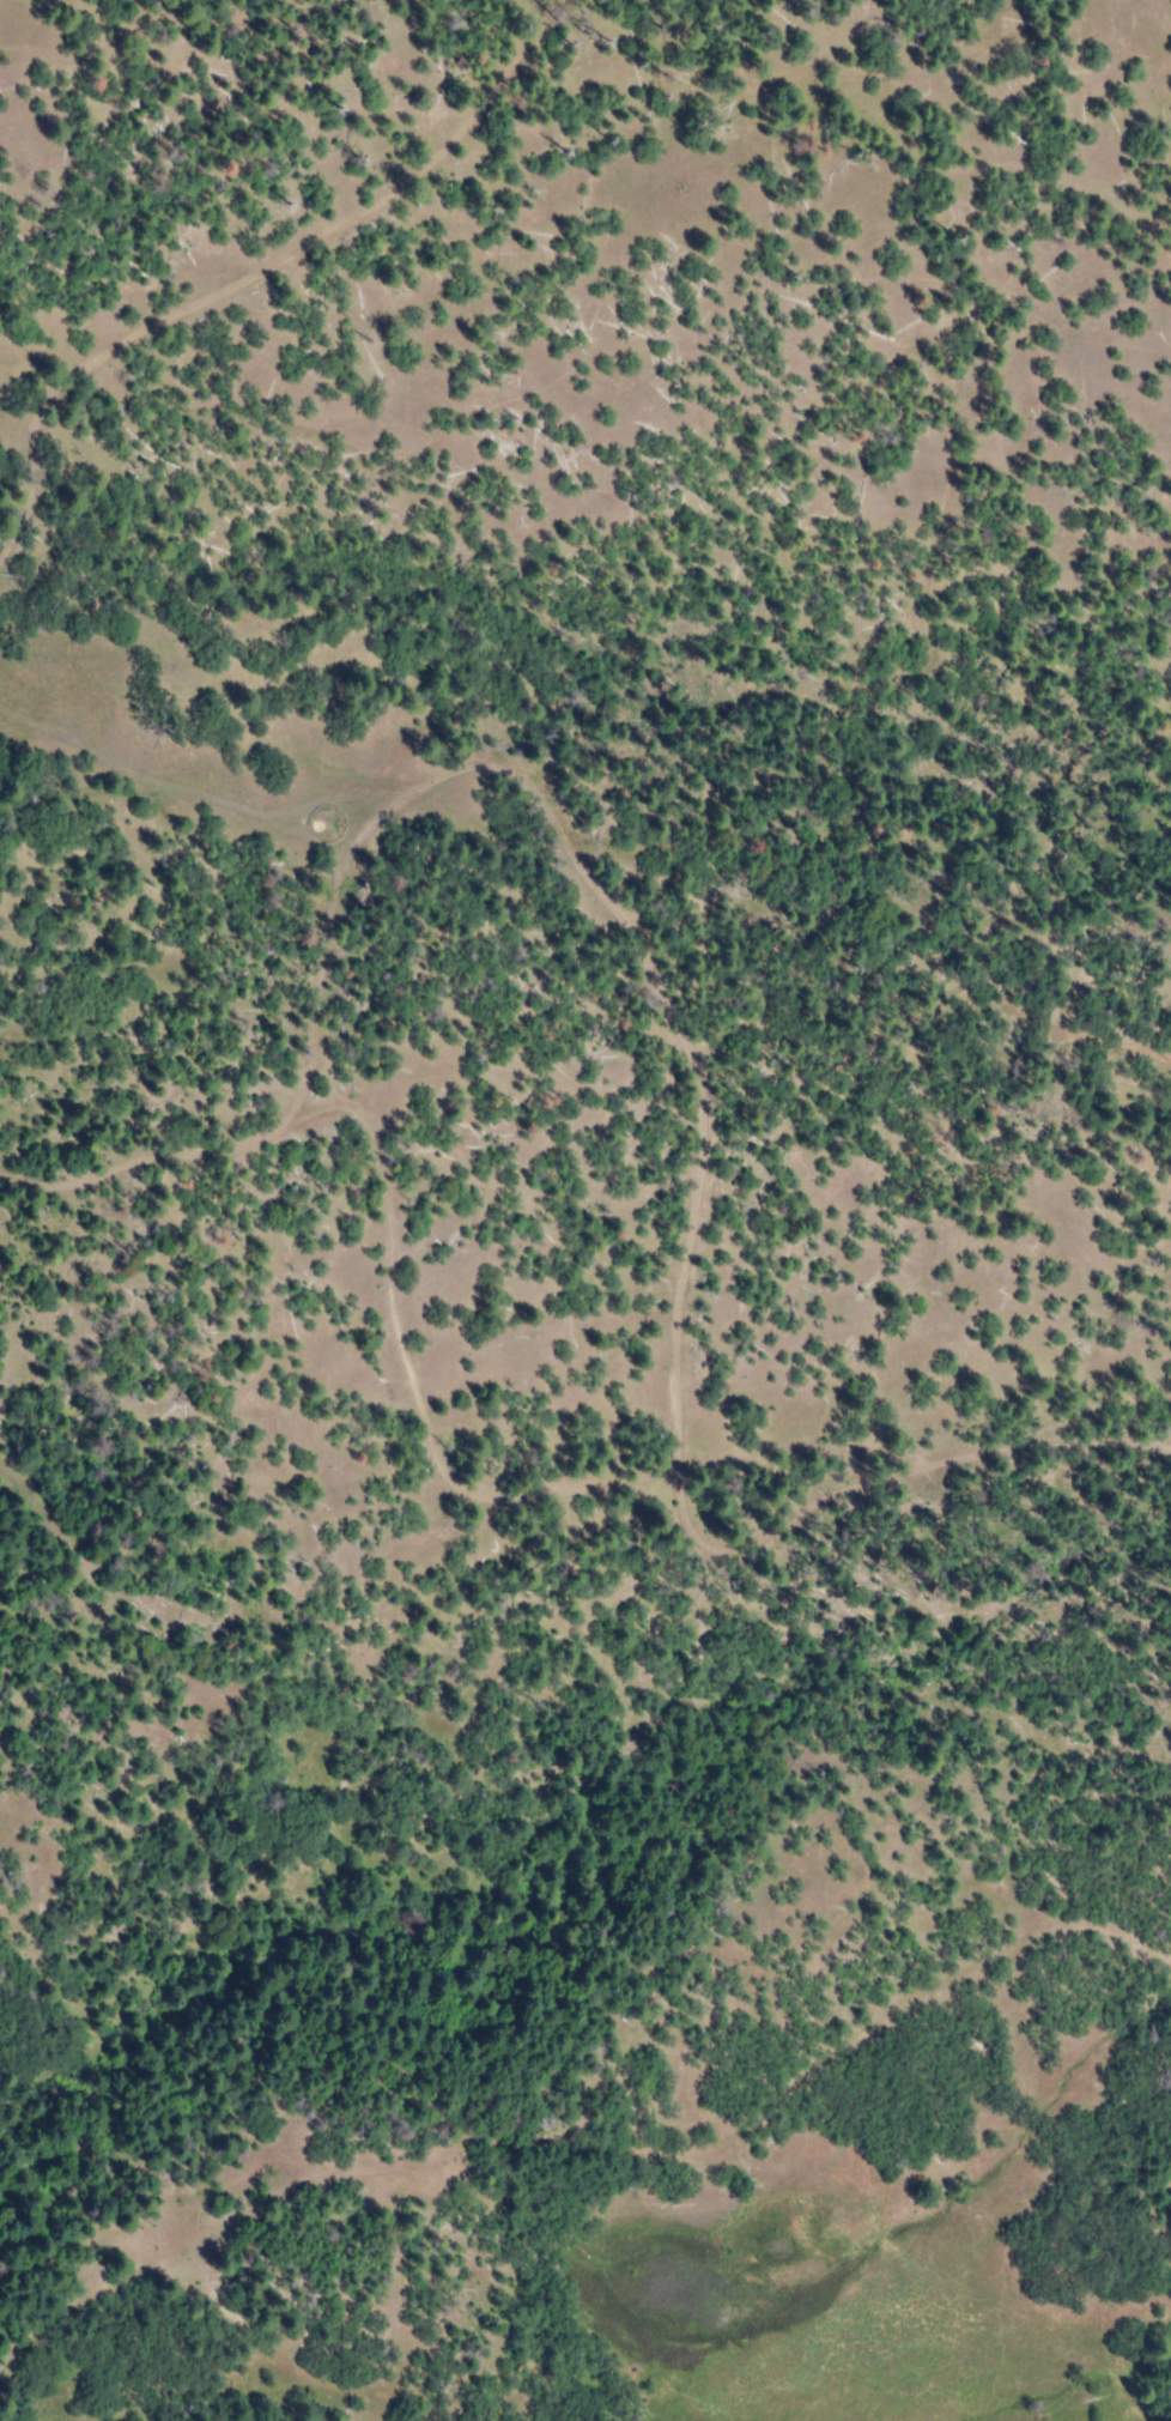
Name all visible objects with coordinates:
road: (893, 2040)
road: (495, 2231)

